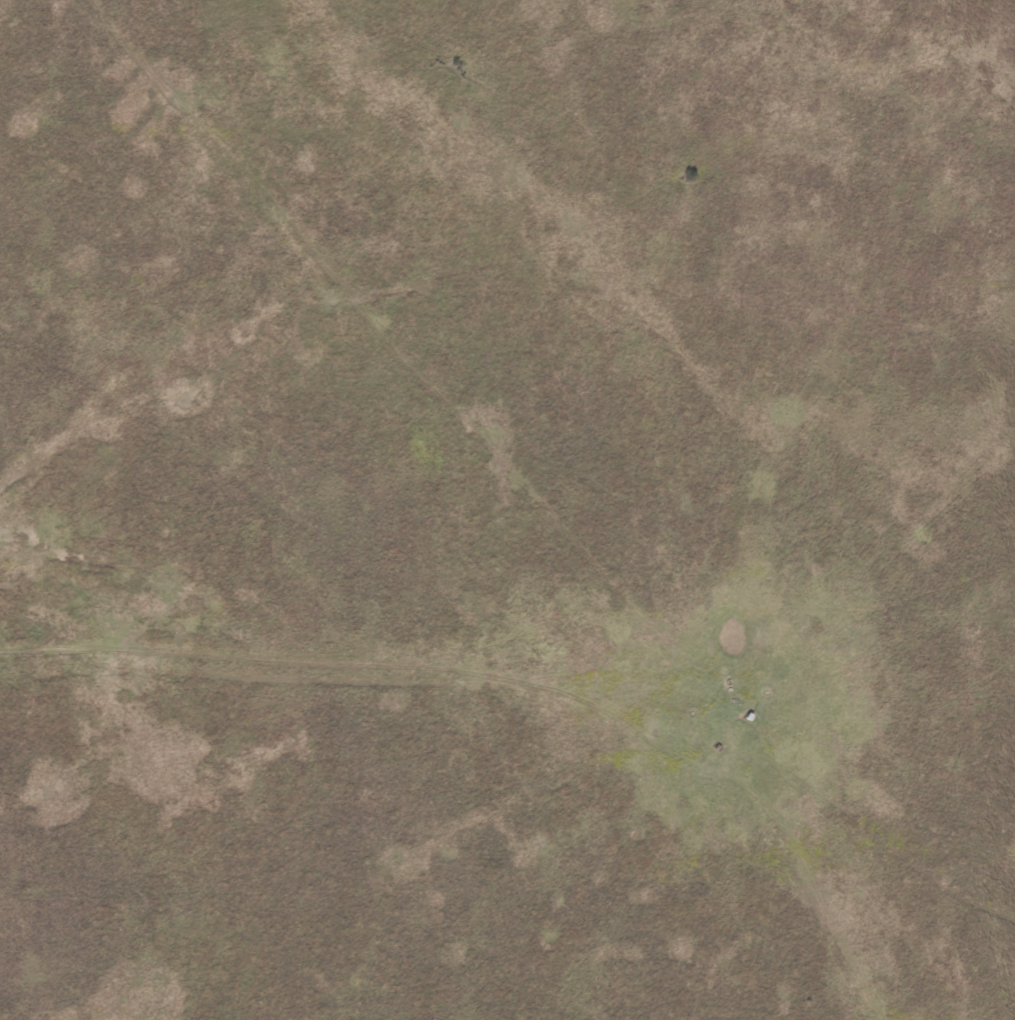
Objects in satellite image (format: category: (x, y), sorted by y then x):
road: (797, 895)

